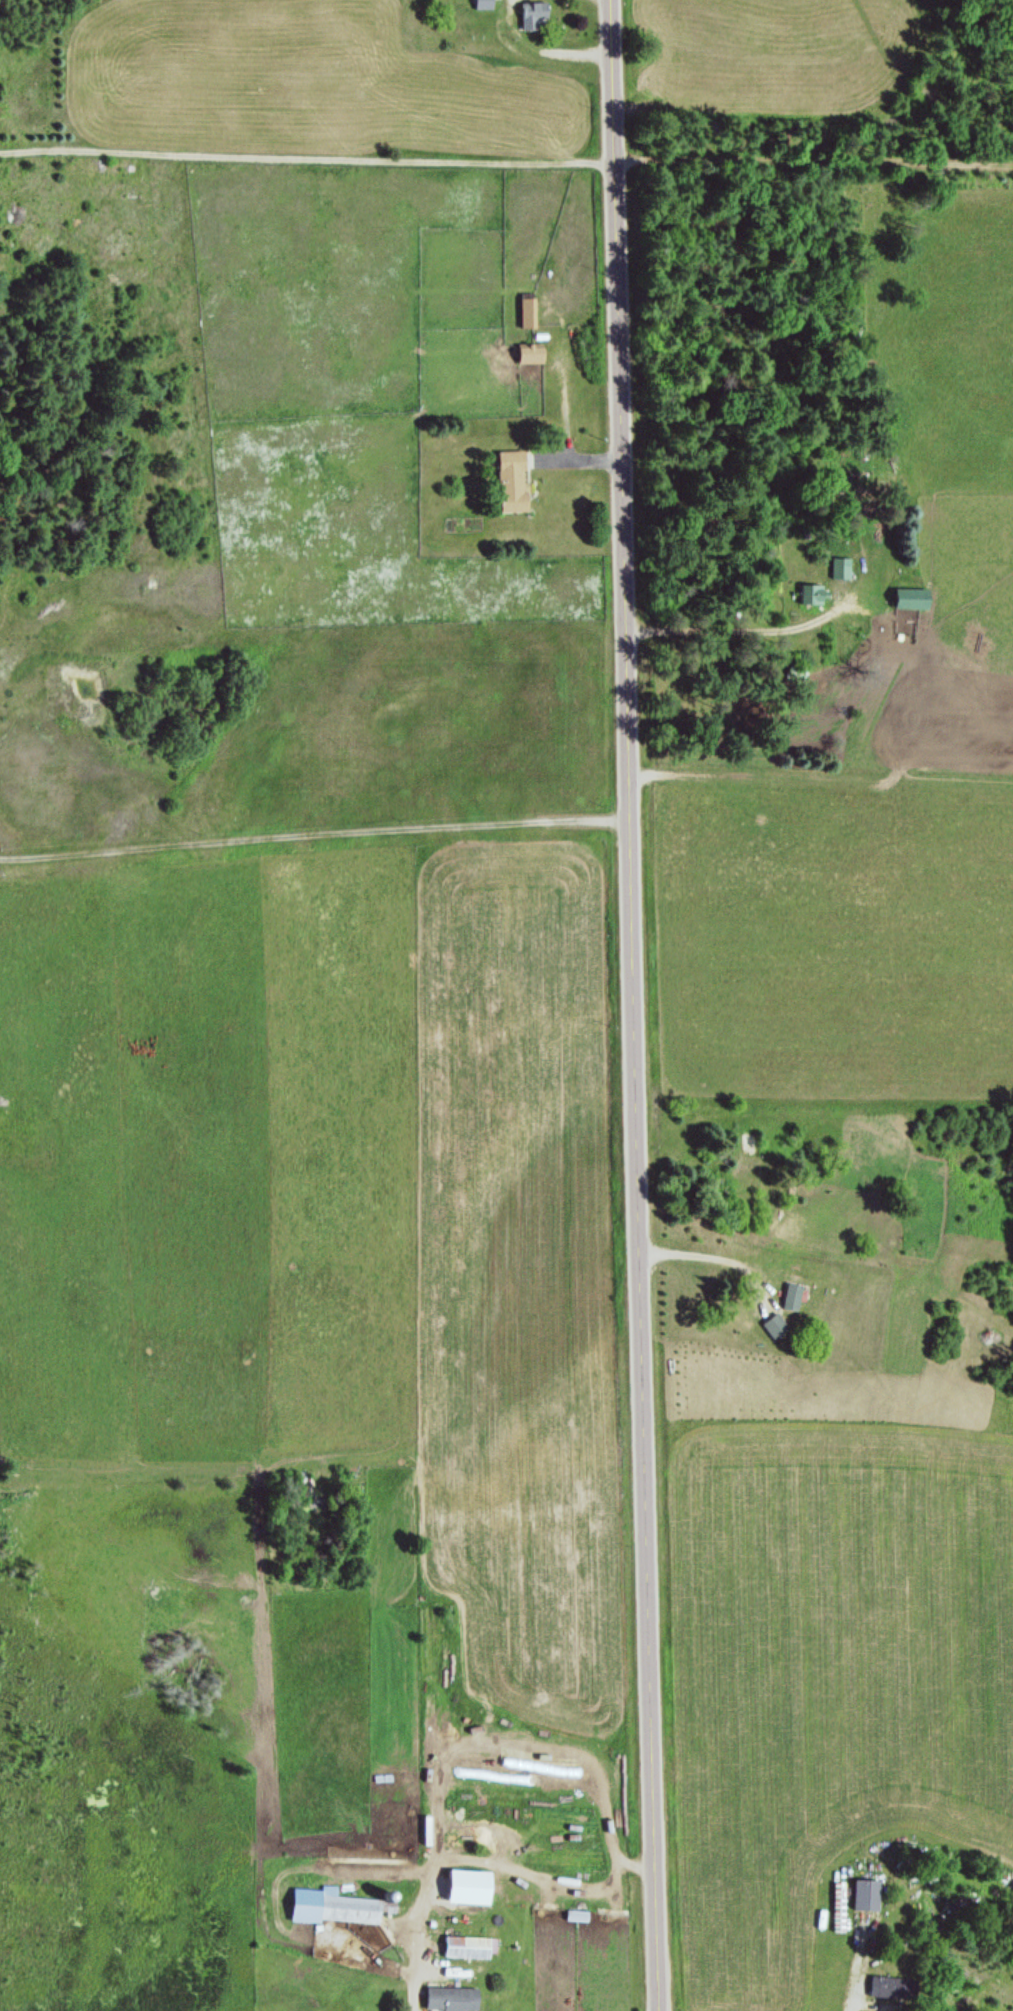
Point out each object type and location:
building: (485, 5)
building: (534, 16)
road: (303, 161)
road: (809, 170)
building: (529, 314)
building: (532, 356)
building: (512, 483)
building: (841, 570)
building: (813, 595)
building: (913, 600)
building: (797, 674)
road: (631, 1005)
building: (794, 1298)
building: (776, 1326)
building: (867, 1895)
building: (356, 1909)
building: (578, 1916)
building: (470, 1948)
building: (893, 1988)
building: (453, 1999)

